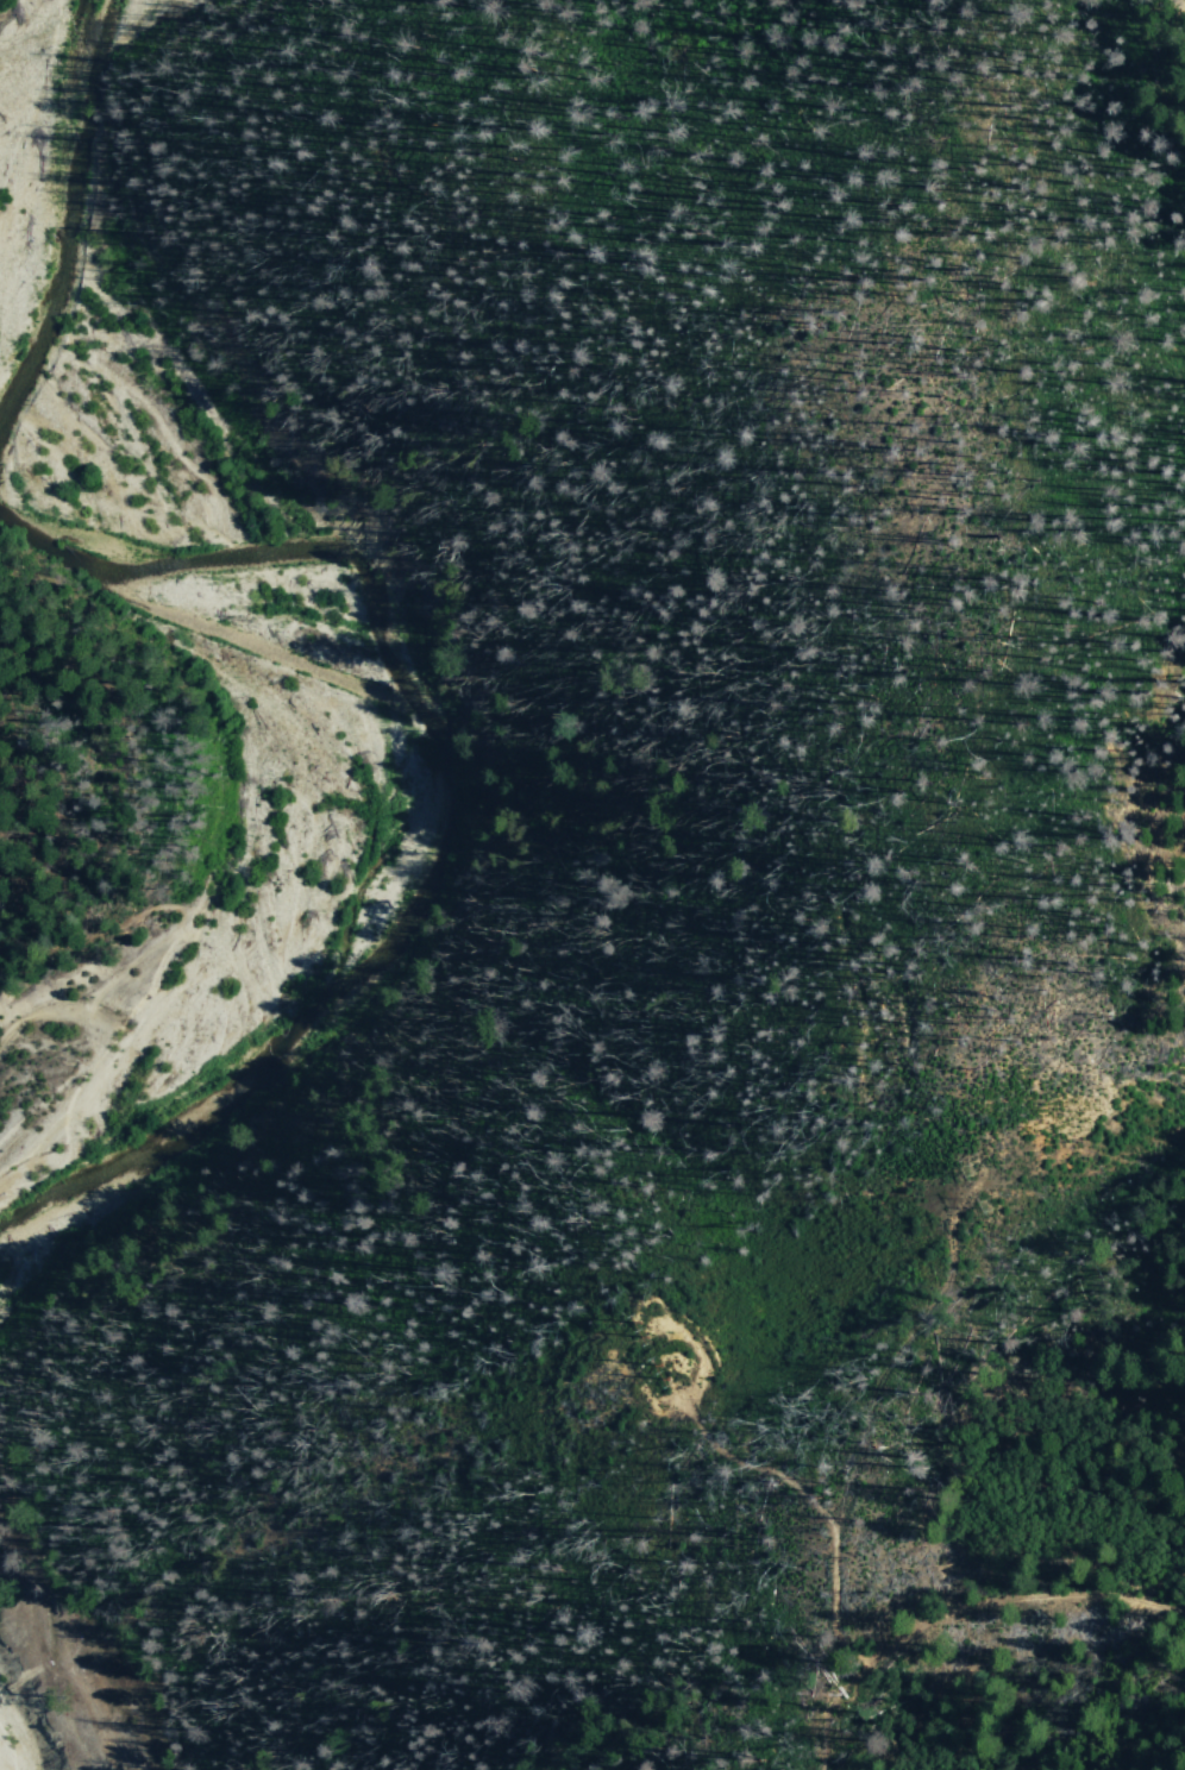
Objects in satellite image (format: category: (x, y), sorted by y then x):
power tower: (628, 1327)
power tower: (653, 1372)

